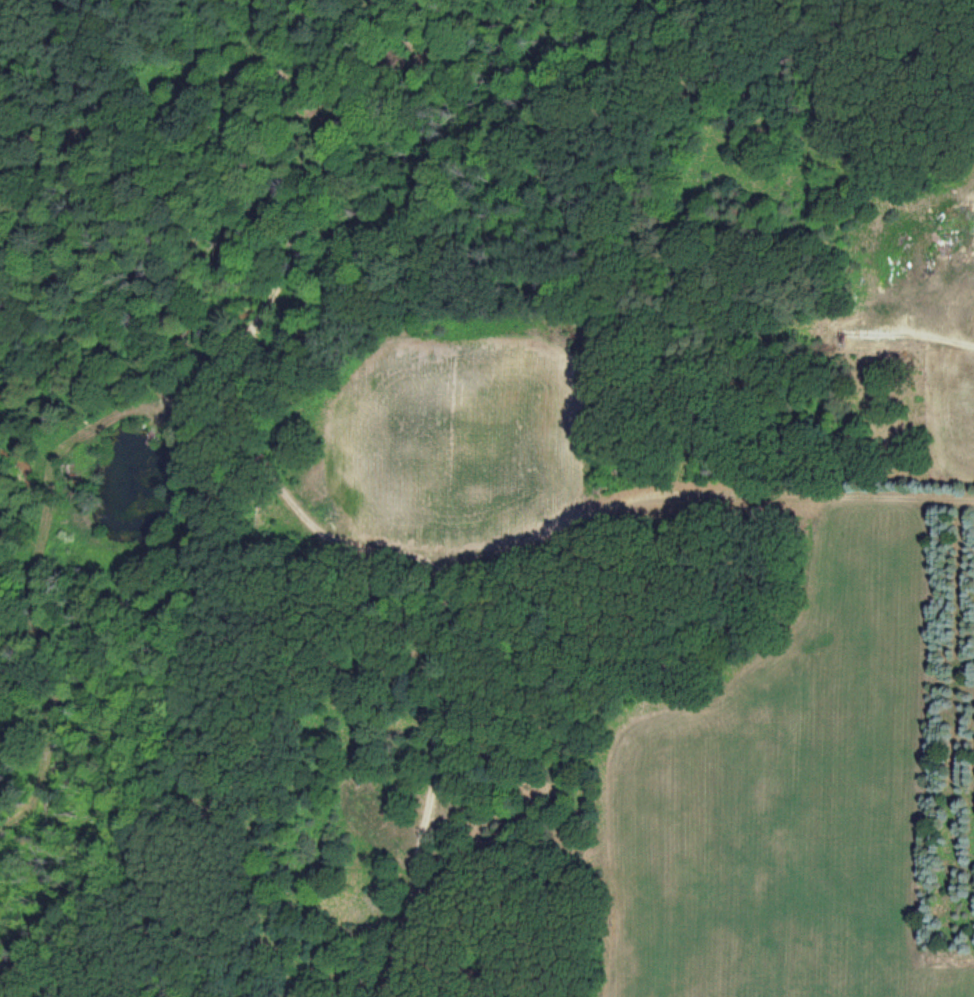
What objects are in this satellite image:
road: (888, 341)

